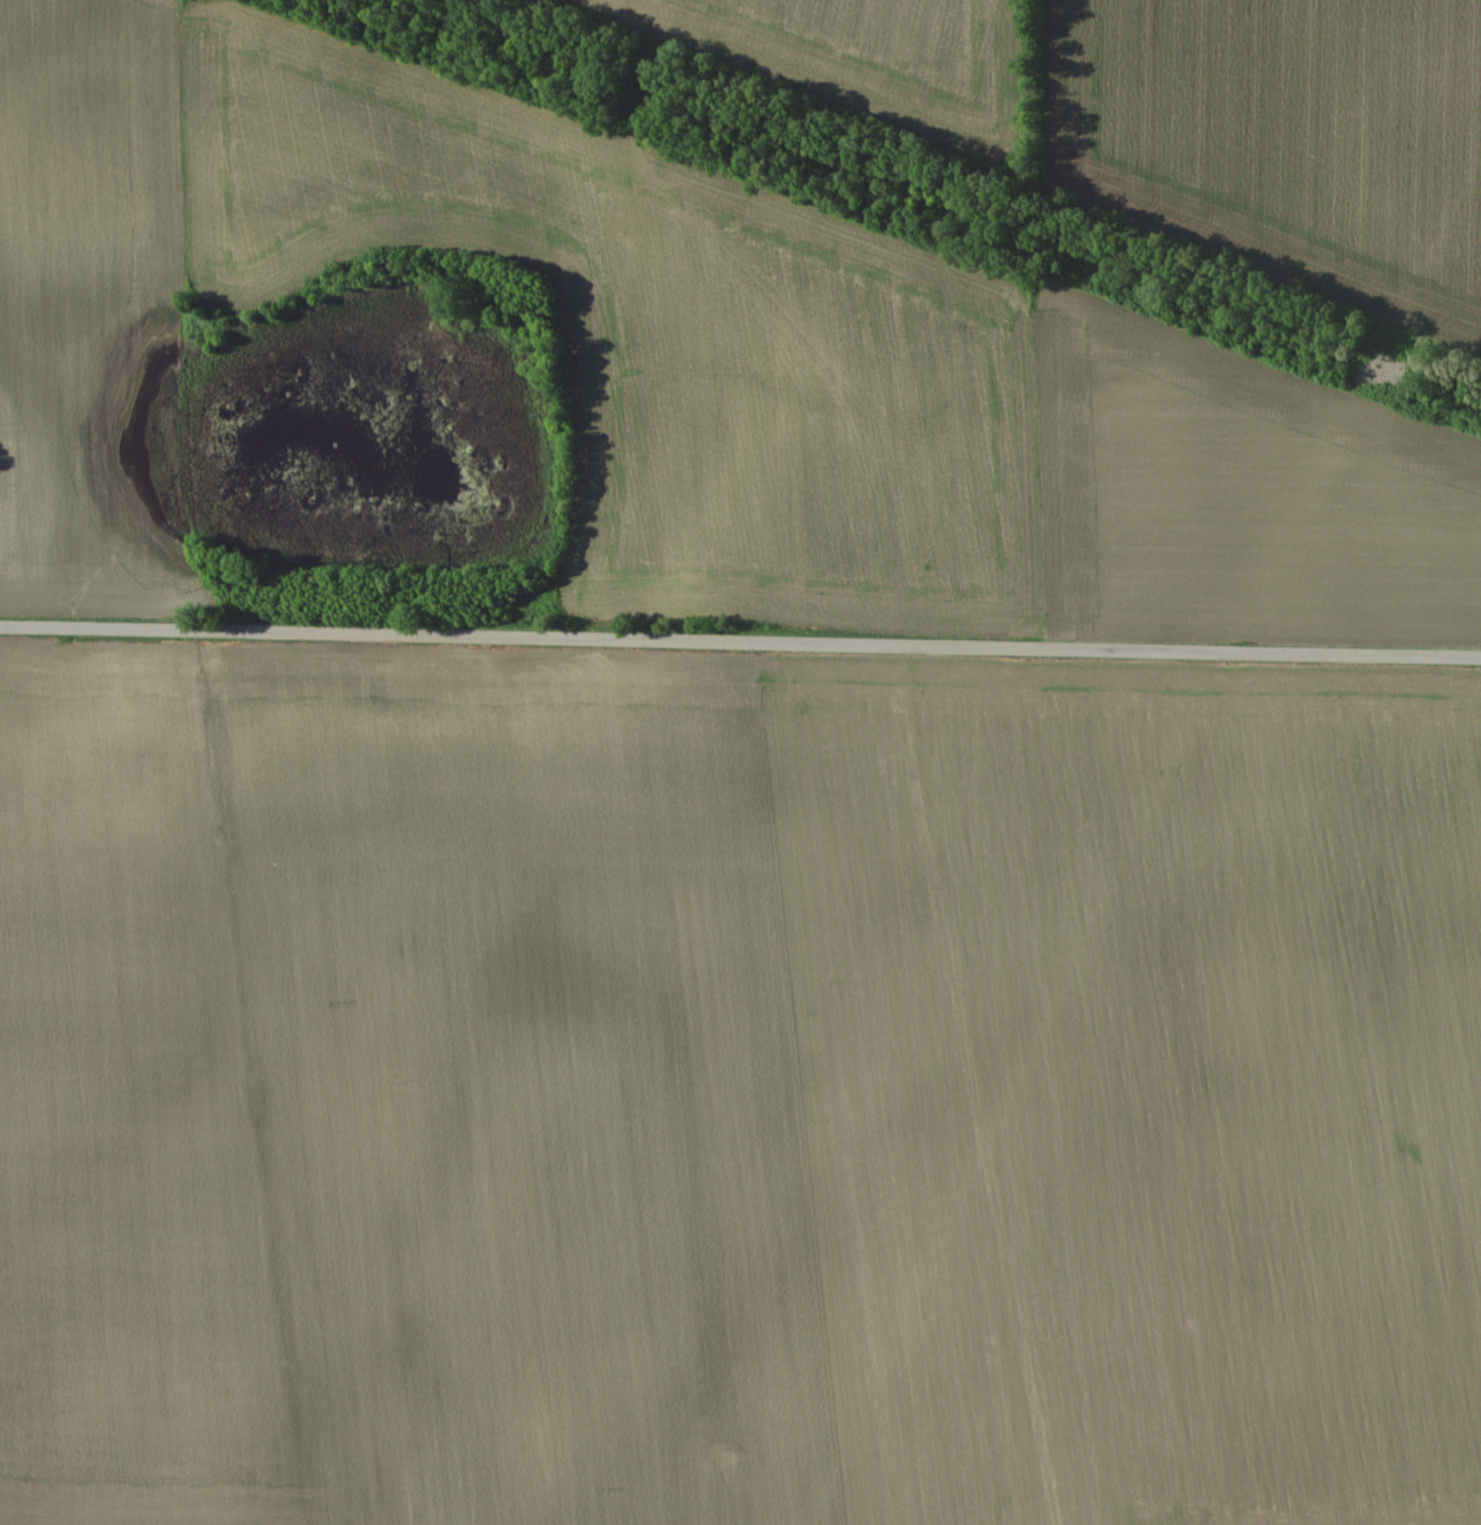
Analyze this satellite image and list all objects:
road: (740, 639)

